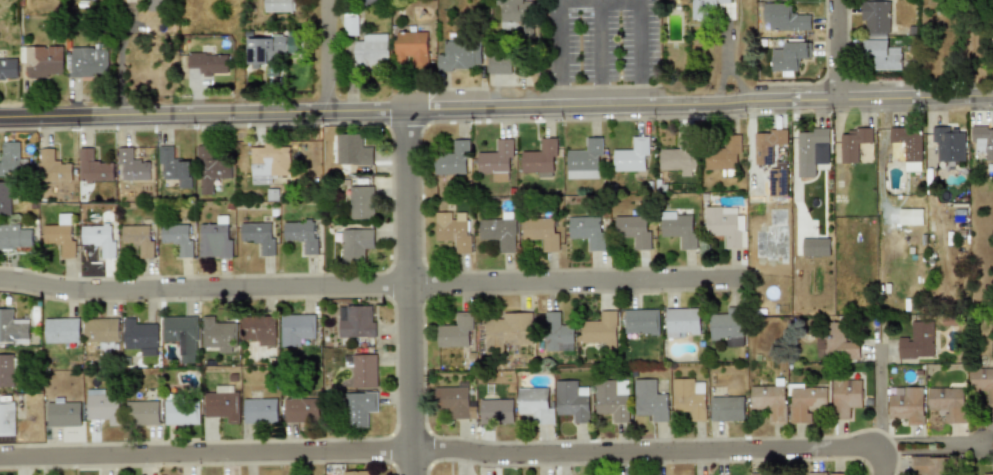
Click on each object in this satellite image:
building: (373, 1)
building: (278, 5)
building: (706, 8)
building: (517, 15)
building: (783, 18)
building: (350, 25)
road: (834, 32)
road: (968, 45)
building: (270, 48)
building: (413, 49)
building: (372, 50)
road: (639, 50)
road: (602, 51)
road: (557, 52)
building: (462, 55)
building: (882, 55)
building: (788, 56)
road: (324, 57)
building: (42, 60)
building: (88, 62)
building: (209, 63)
building: (501, 65)
building: (8, 68)
road: (496, 106)
building: (983, 141)
building: (852, 144)
building: (949, 144)
building: (768, 145)
building: (813, 146)
building: (905, 148)
building: (353, 151)
building: (723, 153)
building: (633, 156)
building: (542, 157)
building: (681, 157)
building: (10, 158)
building: (454, 159)
building: (587, 160)
building: (499, 161)
building: (269, 162)
building: (133, 166)
building: (53, 167)
building: (93, 167)
building: (174, 167)
building: (211, 170)
building: (778, 182)
building: (5, 197)
building: (362, 202)
building: (910, 216)
building: (727, 226)
building: (454, 231)
building: (635, 231)
building: (501, 232)
building: (589, 232)
building: (543, 233)
building: (301, 235)
building: (258, 236)
building: (14, 237)
building: (60, 237)
building: (98, 238)
building: (138, 238)
building: (177, 238)
building: (214, 239)
building: (357, 244)
building: (815, 247)
road: (372, 285)
road: (411, 292)
building: (642, 321)
building: (357, 322)
building: (683, 322)
building: (729, 326)
building: (13, 328)
building: (259, 329)
building: (297, 329)
building: (602, 330)
building: (62, 331)
building: (510, 331)
building: (102, 332)
building: (457, 332)
building: (559, 334)
building: (218, 335)
building: (181, 336)
building: (140, 337)
building: (917, 341)
building: (6, 370)
building: (365, 371)
building: (982, 383)
road: (880, 396)
building: (845, 397)
building: (613, 399)
building: (689, 399)
building: (650, 400)
building: (573, 401)
building: (770, 401)
building: (947, 402)
building: (222, 403)
building: (536, 404)
building: (906, 404)
building: (103, 406)
building: (360, 408)
building: (727, 408)
building: (301, 409)
building: (180, 410)
building: (260, 411)
building: (497, 411)
building: (63, 413)
building: (143, 413)
building: (6, 419)
road: (933, 445)
road: (454, 450)
building: (930, 465)
building: (356, 473)
building: (816, 473)
building: (758, 474)
building: (837, 474)
building: (988, 474)

